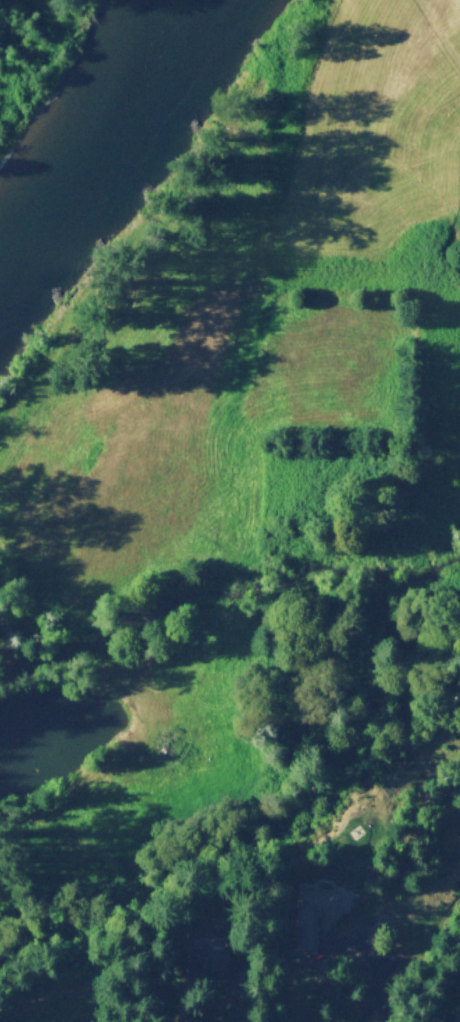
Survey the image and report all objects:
river: (100, 118)
river: (11, 230)
building: (323, 907)
building: (221, 950)
building: (97, 1019)

